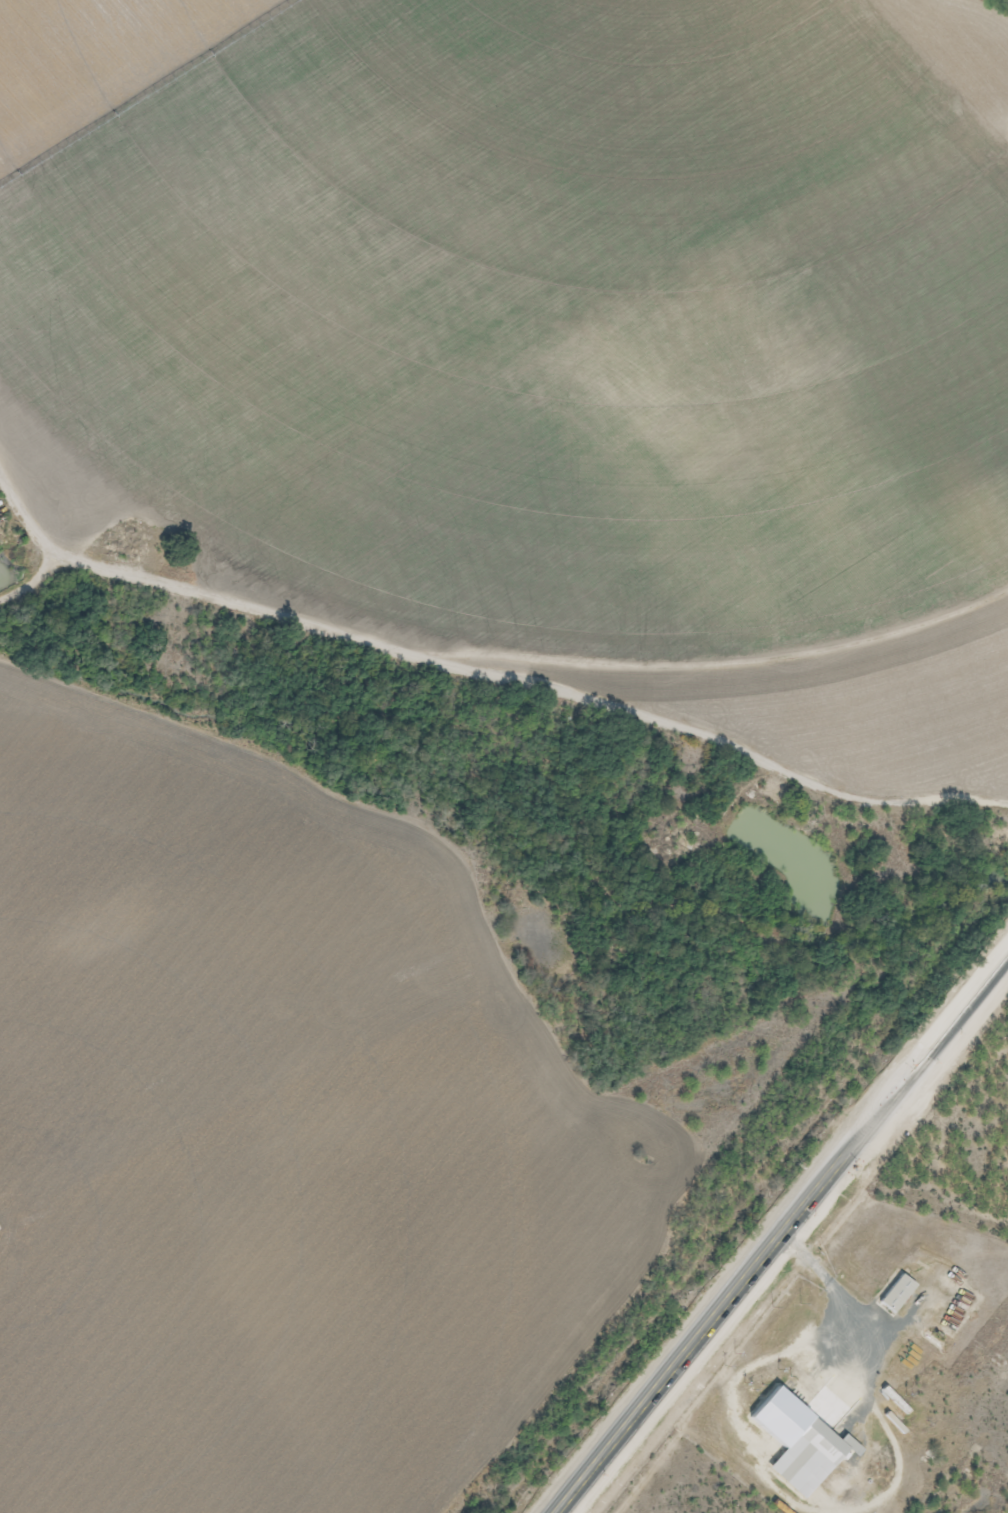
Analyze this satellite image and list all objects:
road: (782, 1233)
building: (895, 1295)
building: (794, 1441)

